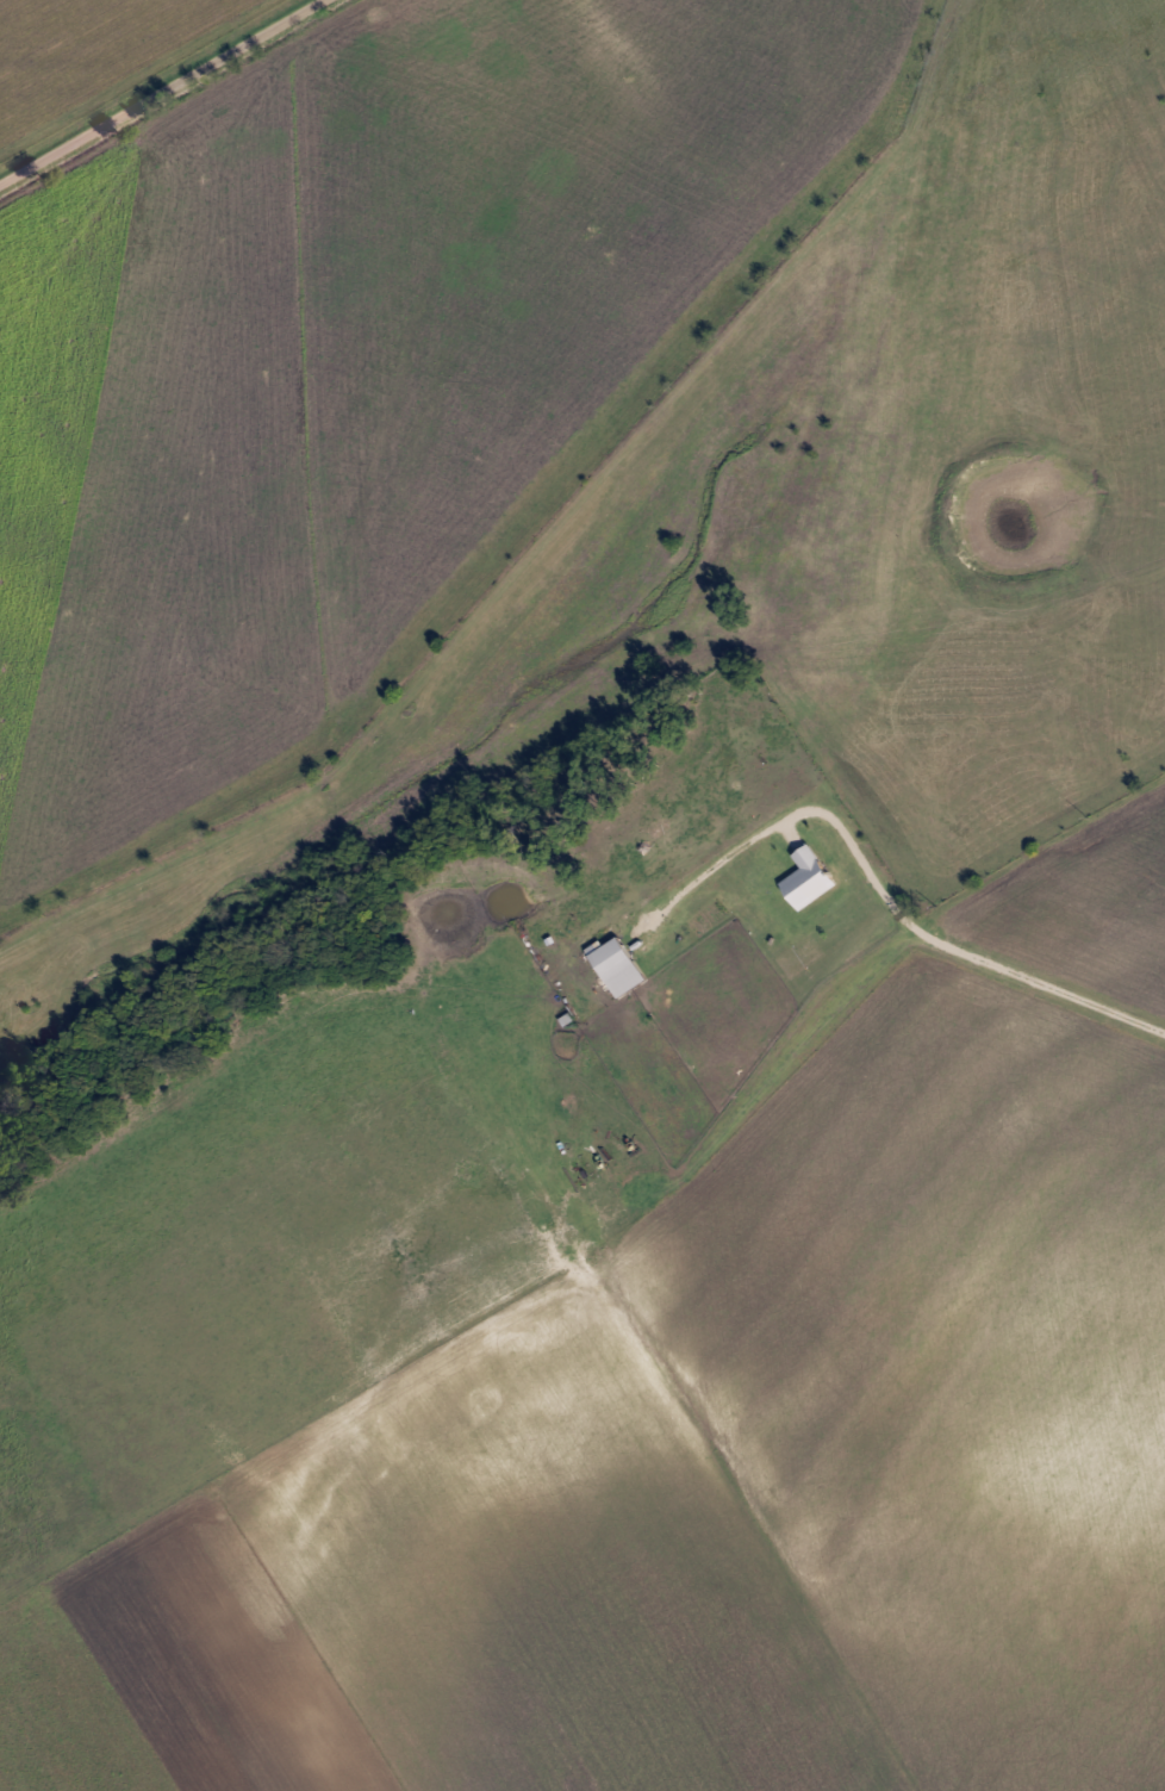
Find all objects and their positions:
road: (158, 91)
building: (817, 877)
road: (884, 898)
building: (625, 966)

